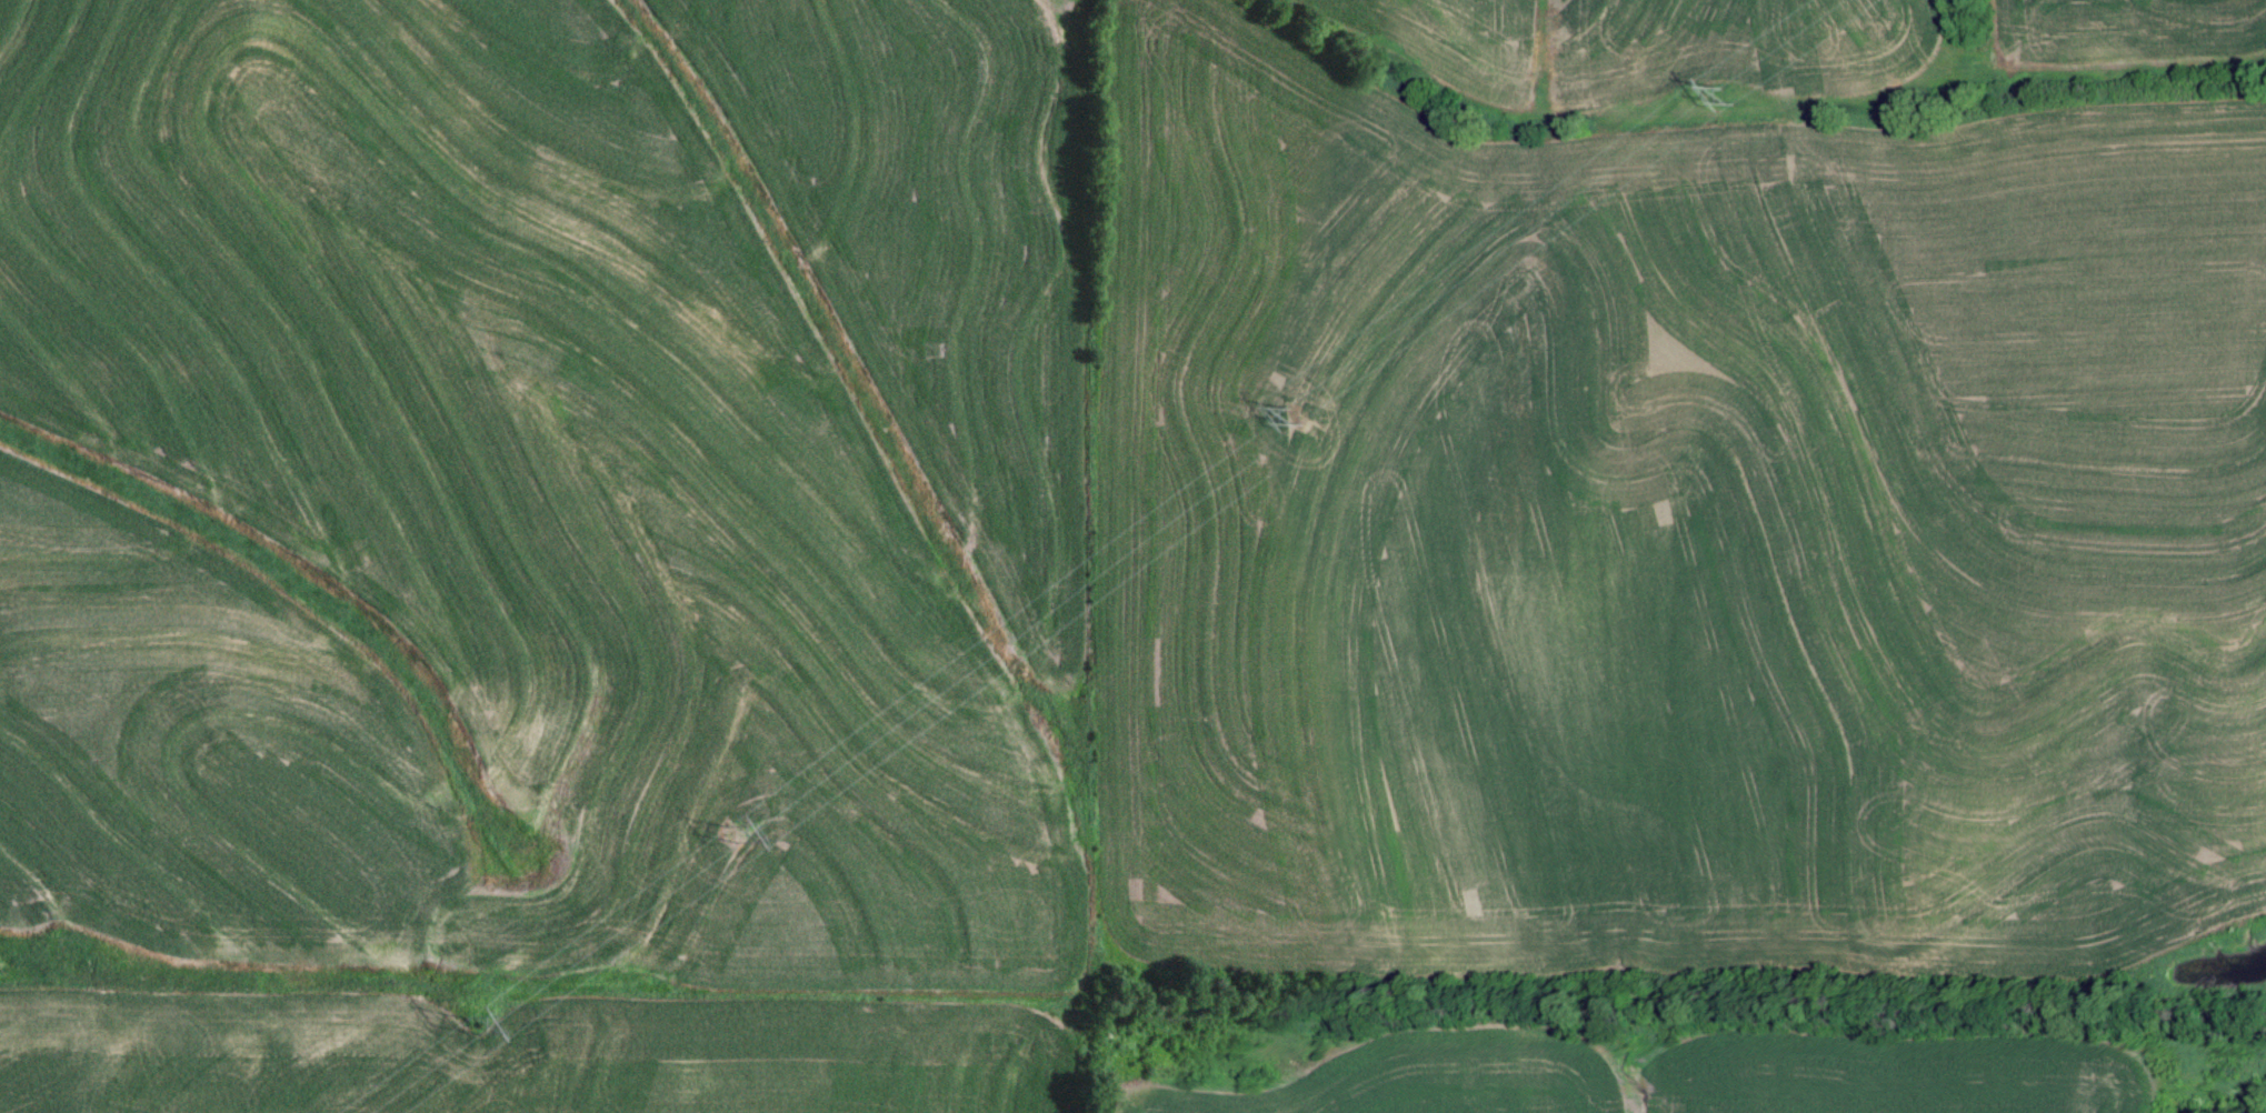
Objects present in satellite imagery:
power tower: (1719, 93)
power tower: (1296, 414)
power tower: (729, 831)
power tower: (478, 1023)

